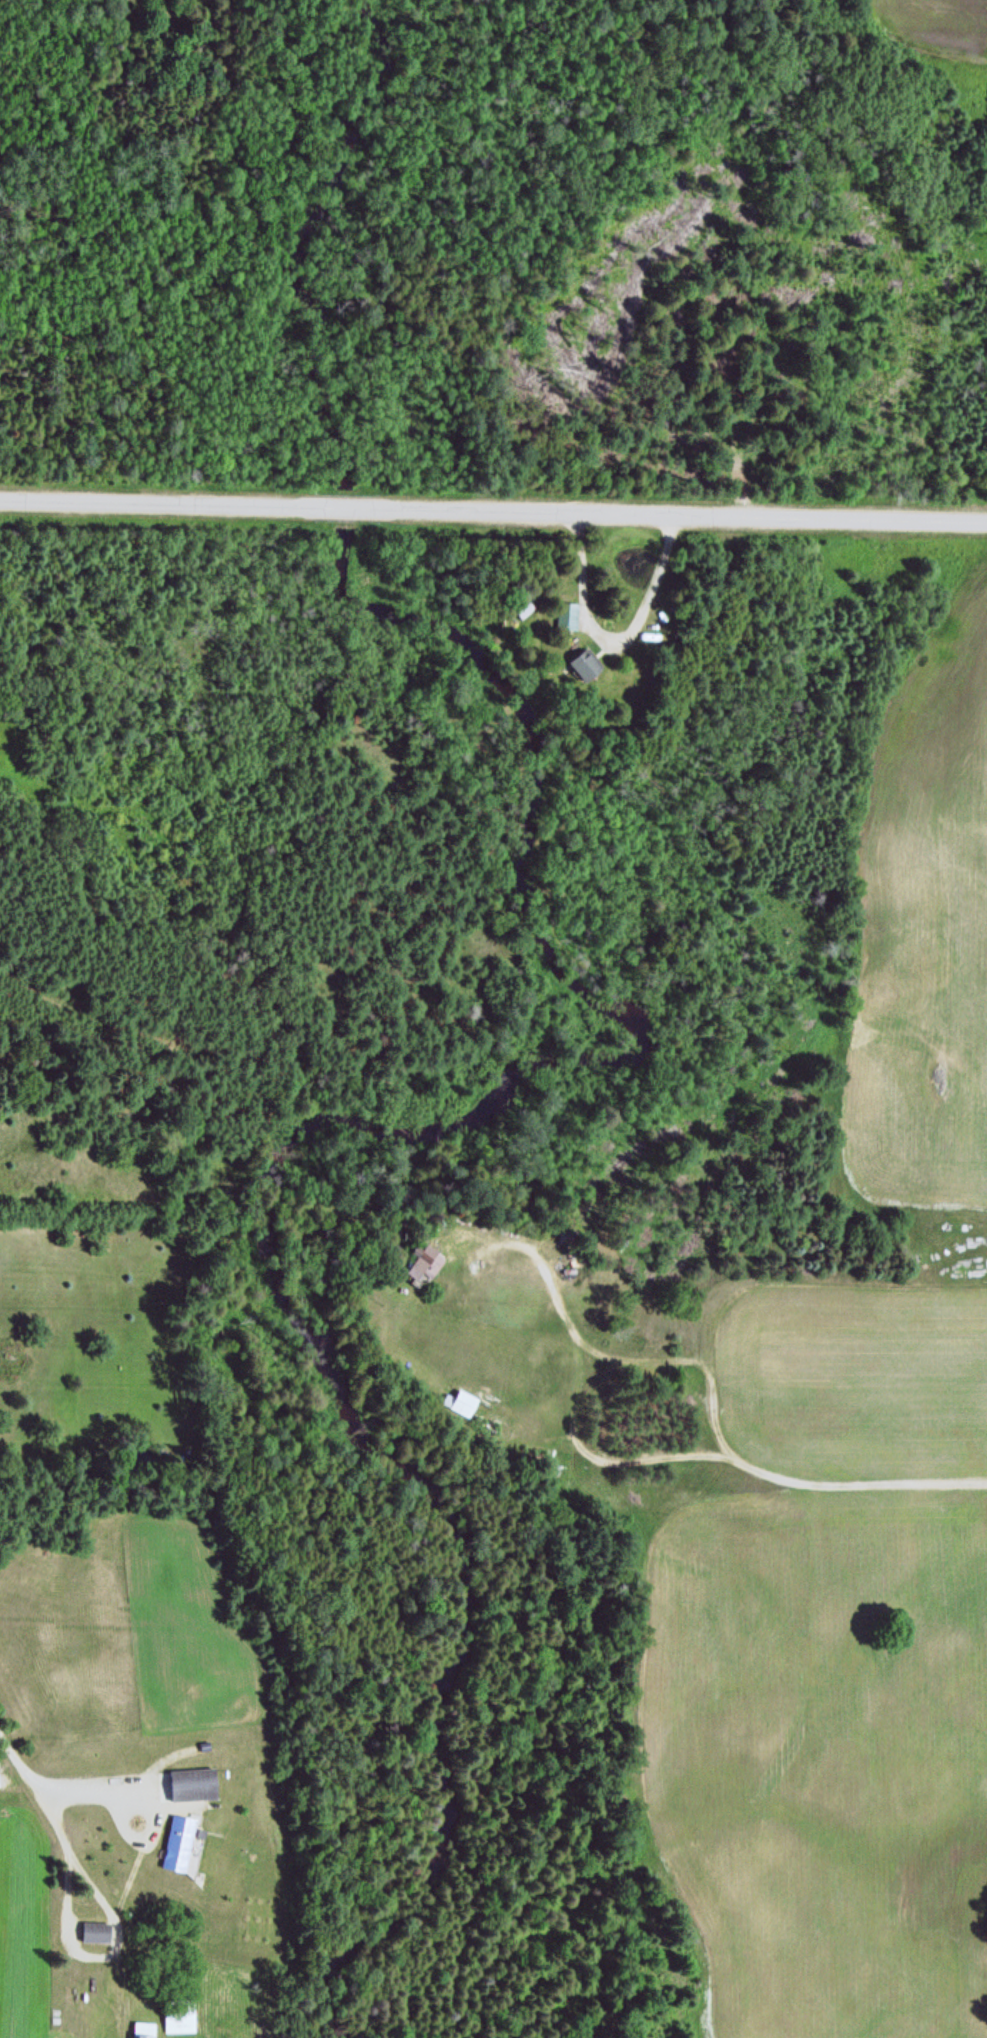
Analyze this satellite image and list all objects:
river: (311, 237)
road: (185, 506)
river: (341, 508)
road: (679, 516)
building: (519, 607)
building: (563, 615)
road: (611, 642)
building: (581, 660)
road: (159, 1041)
river: (317, 1118)
road: (444, 1244)
building: (422, 1256)
building: (456, 1401)
road: (706, 1416)
building: (191, 1779)
road: (30, 1790)
road: (74, 1793)
road: (152, 1813)
building: (175, 1840)
building: (92, 1928)
road: (96, 1955)
building: (176, 2014)
building: (140, 2028)

